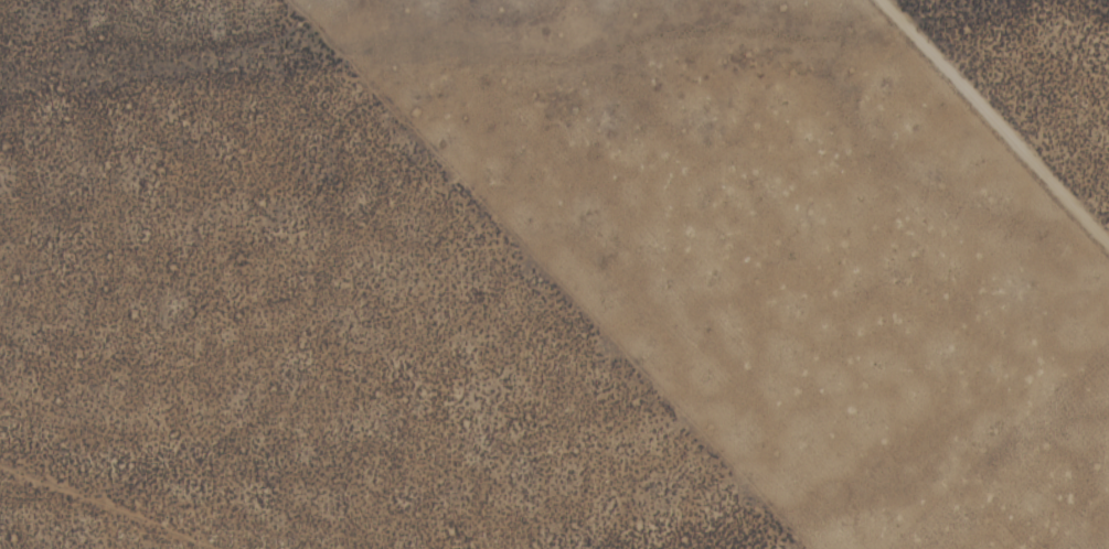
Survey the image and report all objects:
road: (995, 121)
road: (97, 508)

